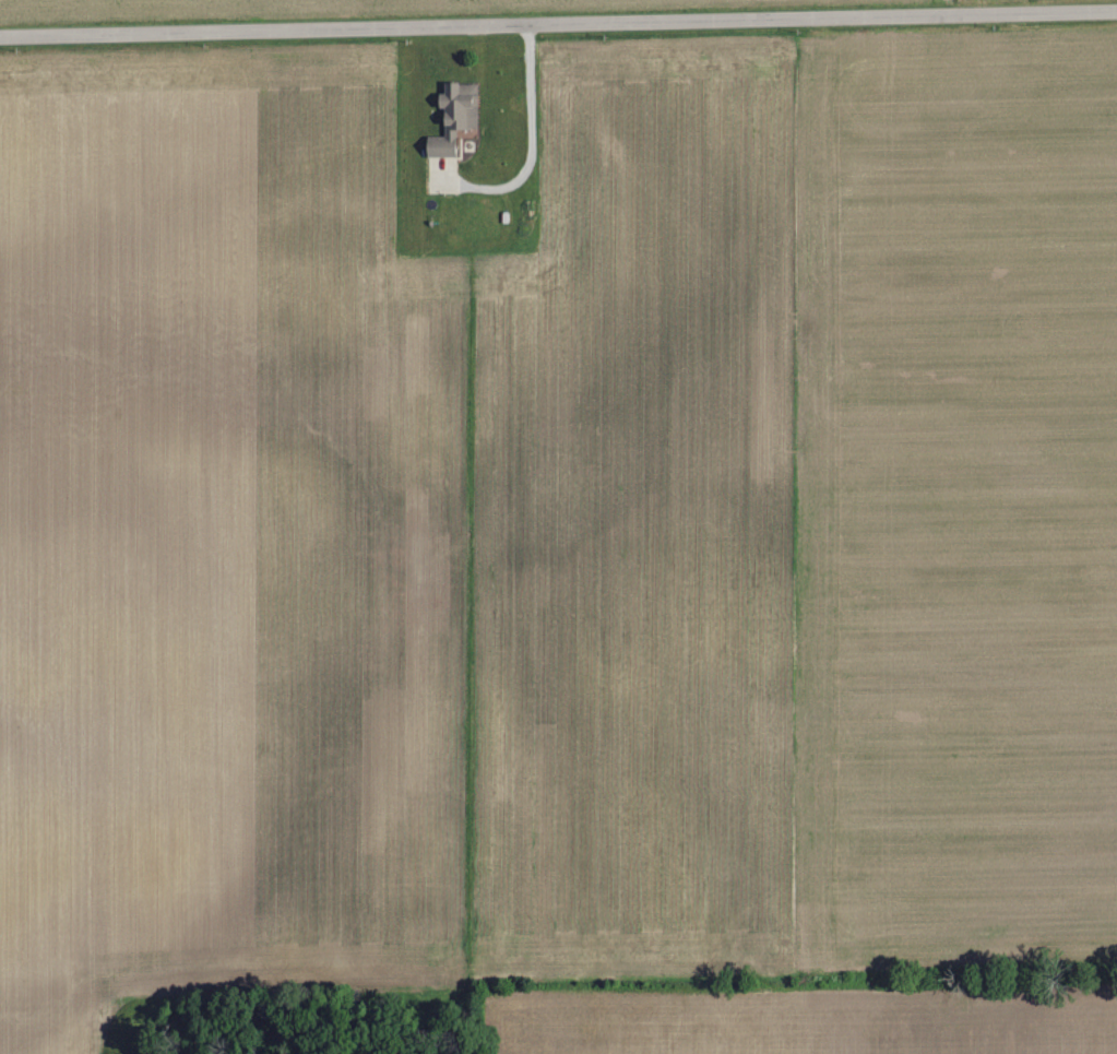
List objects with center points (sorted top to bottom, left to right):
road: (558, 22)
building: (454, 116)
crop: (566, 548)

